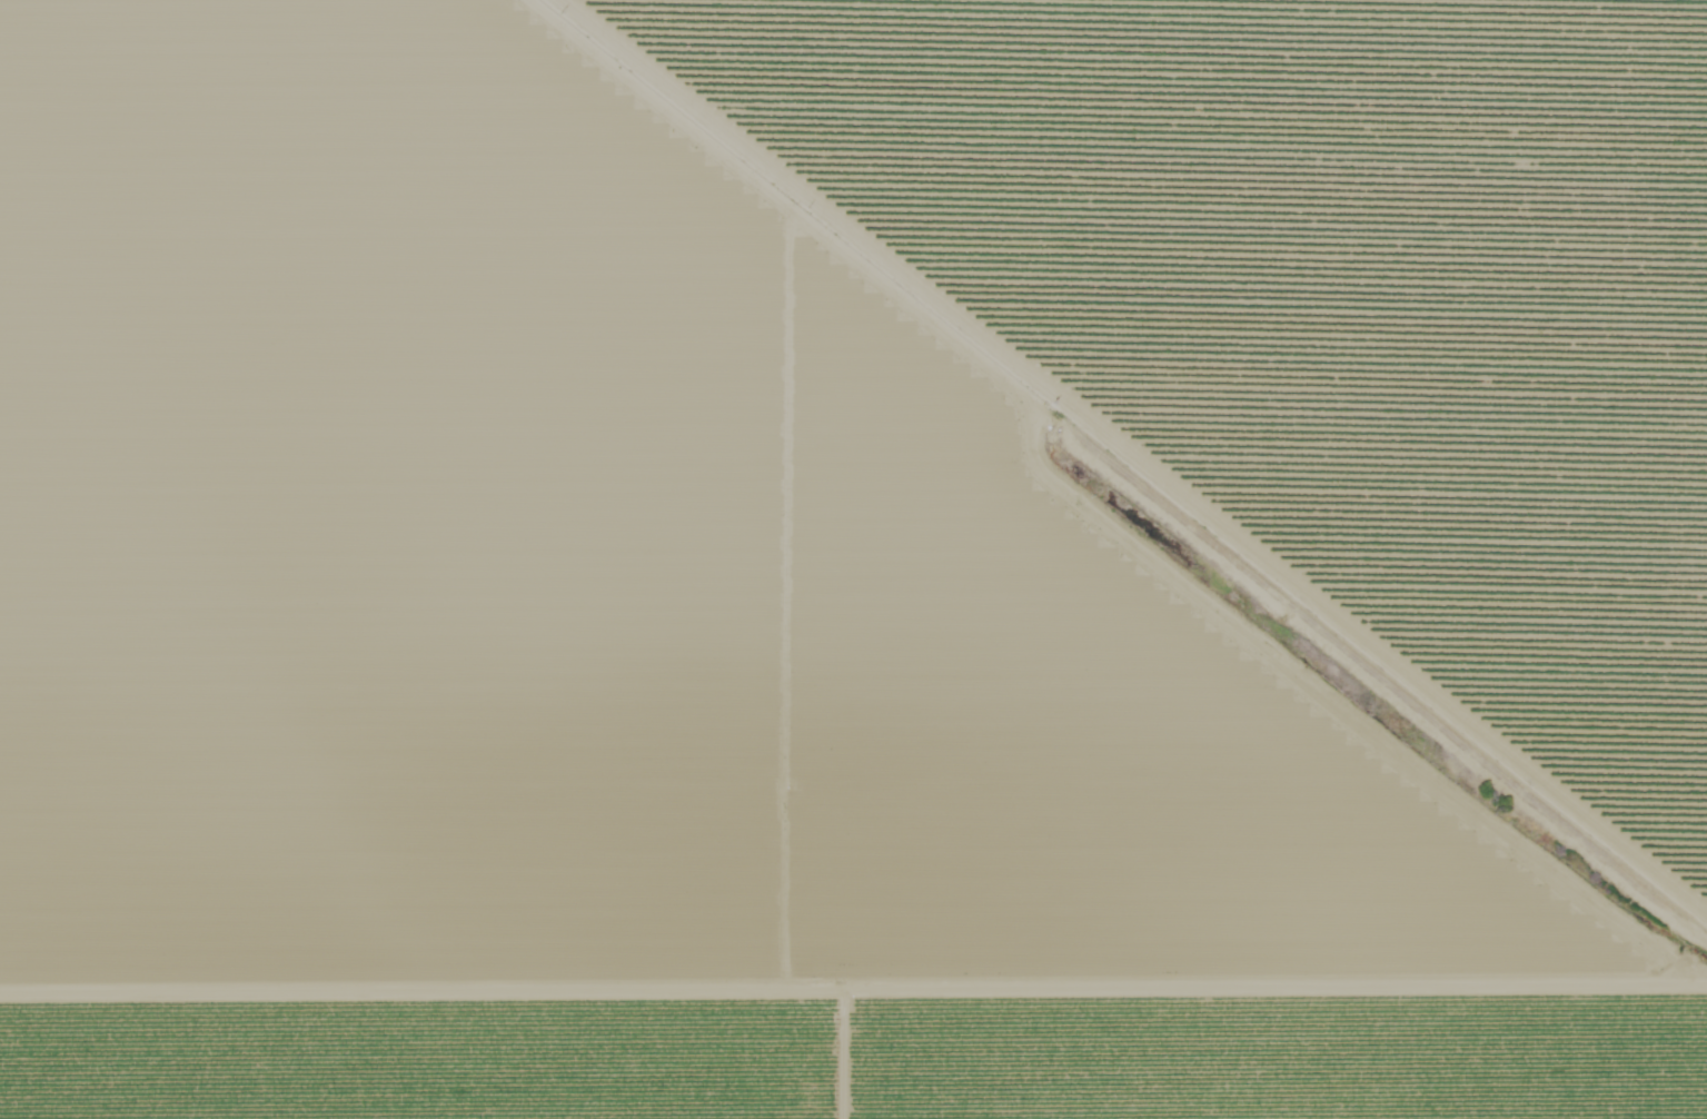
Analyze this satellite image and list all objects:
road: (1137, 461)
crop: (642, 598)
crop: (857, 1069)

